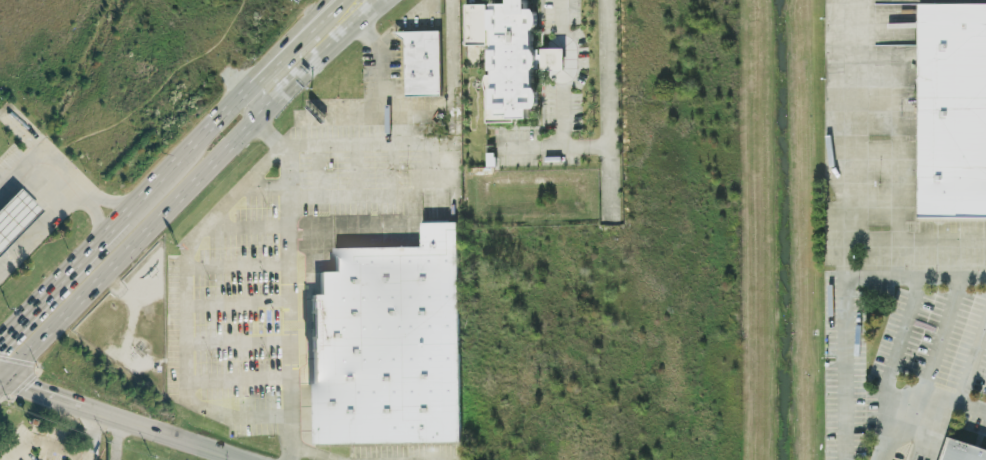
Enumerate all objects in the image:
road: (426, 11)
road: (295, 33)
road: (306, 34)
building: (503, 56)
building: (551, 58)
road: (314, 59)
building: (420, 63)
road: (282, 69)
building: (950, 111)
road: (426, 115)
road: (266, 134)
road: (843, 136)
road: (194, 142)
road: (581, 149)
road: (530, 151)
road: (38, 169)
road: (390, 169)
road: (356, 170)
road: (317, 171)
road: (267, 184)
road: (416, 196)
road: (106, 199)
building: (15, 212)
gas station: (15, 212)
road: (93, 213)
road: (304, 226)
road: (42, 228)
road: (916, 239)
road: (183, 244)
road: (126, 250)
road: (234, 265)
road: (60, 279)
road: (294, 292)
road: (846, 296)
road: (234, 304)
road: (941, 336)
road: (235, 341)
road: (900, 342)
building: (388, 345)
road: (973, 366)
road: (0, 378)
road: (0, 379)
traffic signals: (1, 379)
road: (235, 384)
road: (916, 399)
road: (76, 403)
road: (91, 435)
road: (114, 438)
road: (42, 442)
road: (200, 444)
road: (295, 451)
road: (315, 451)
building: (956, 451)

